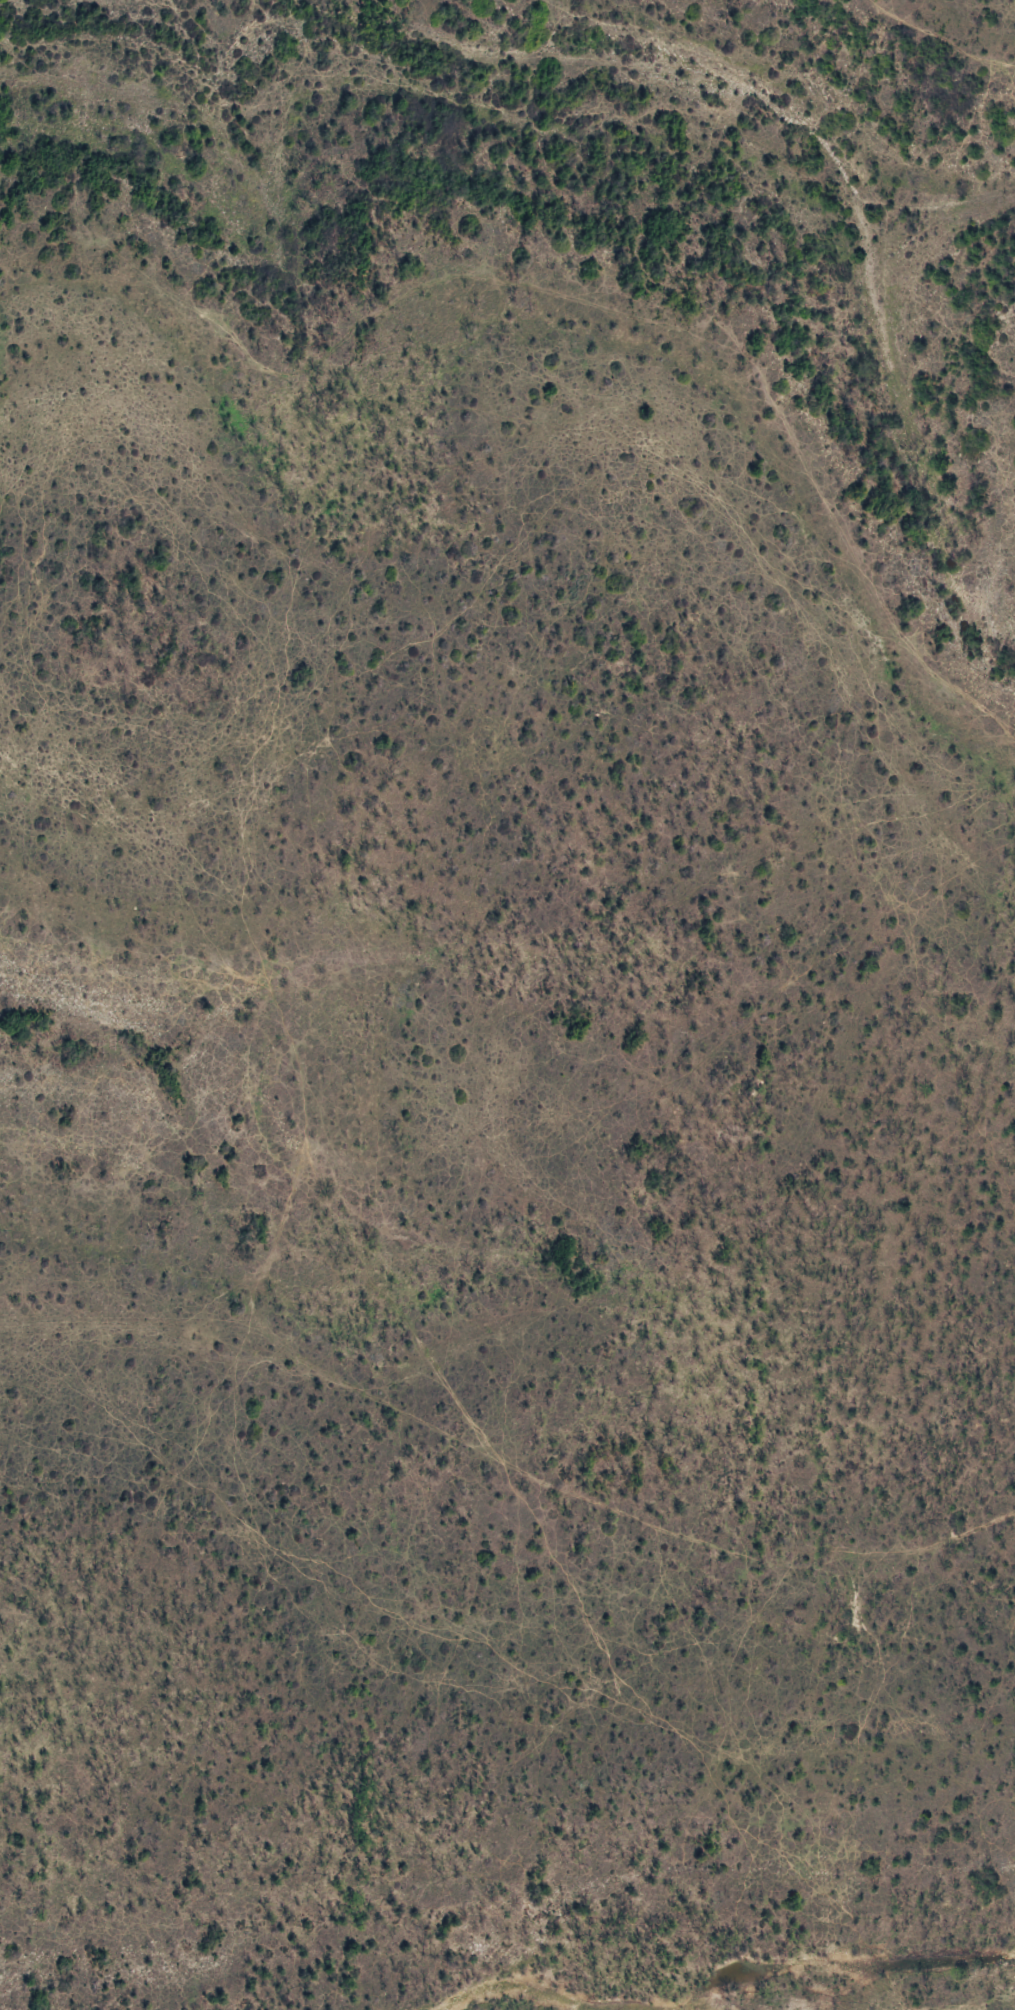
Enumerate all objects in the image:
road: (954, 21)

